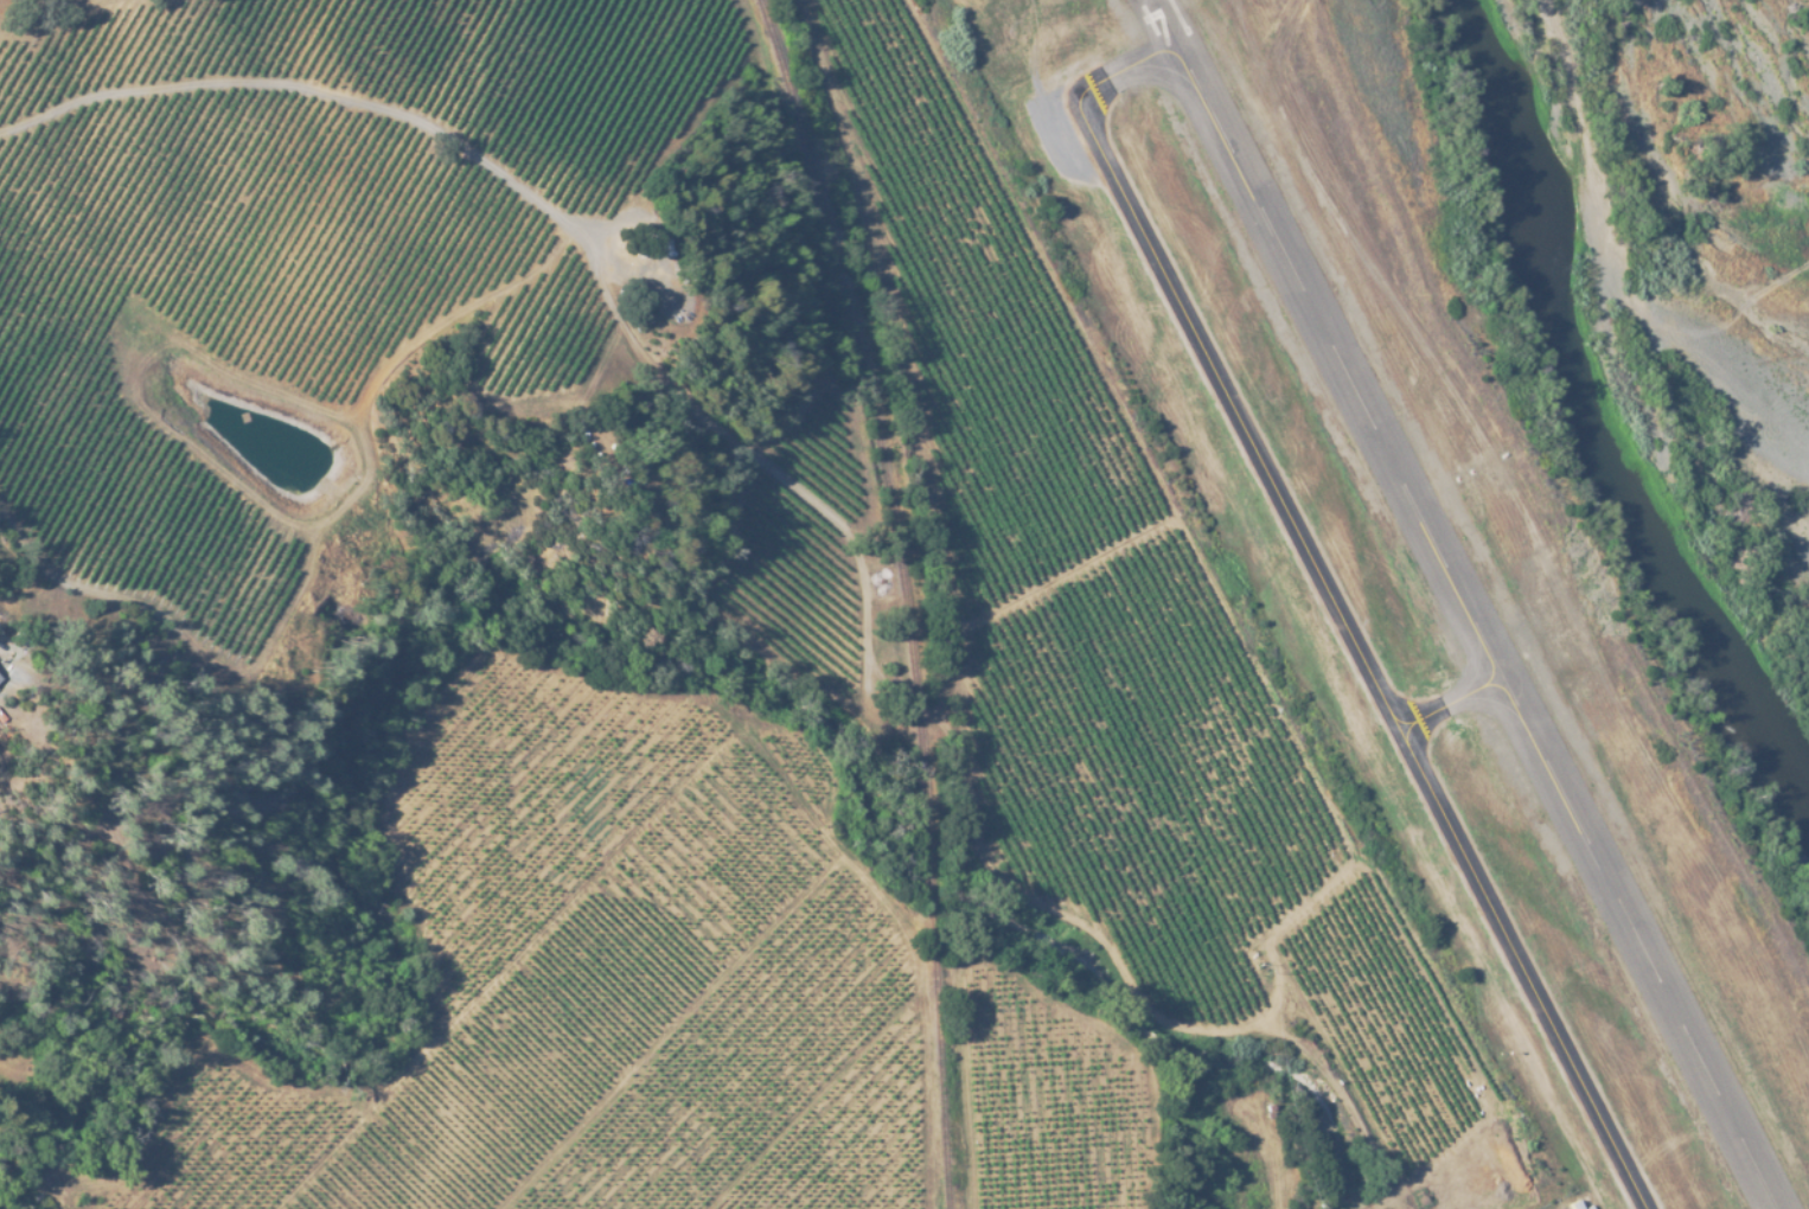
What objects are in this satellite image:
road: (1279, 39)
road: (551, 213)
river: (1616, 410)
railway: (901, 596)
airport: (1413, 601)
airport runway: (1474, 604)
airport taxiway: (1334, 607)
airport taxiway: (1457, 708)
road: (381, 820)
airport hangar: (1573, 1204)
building: (1573, 1204)
airport apron: (1575, 1204)
airport hangar: (1586, 1208)
building: (1586, 1208)

